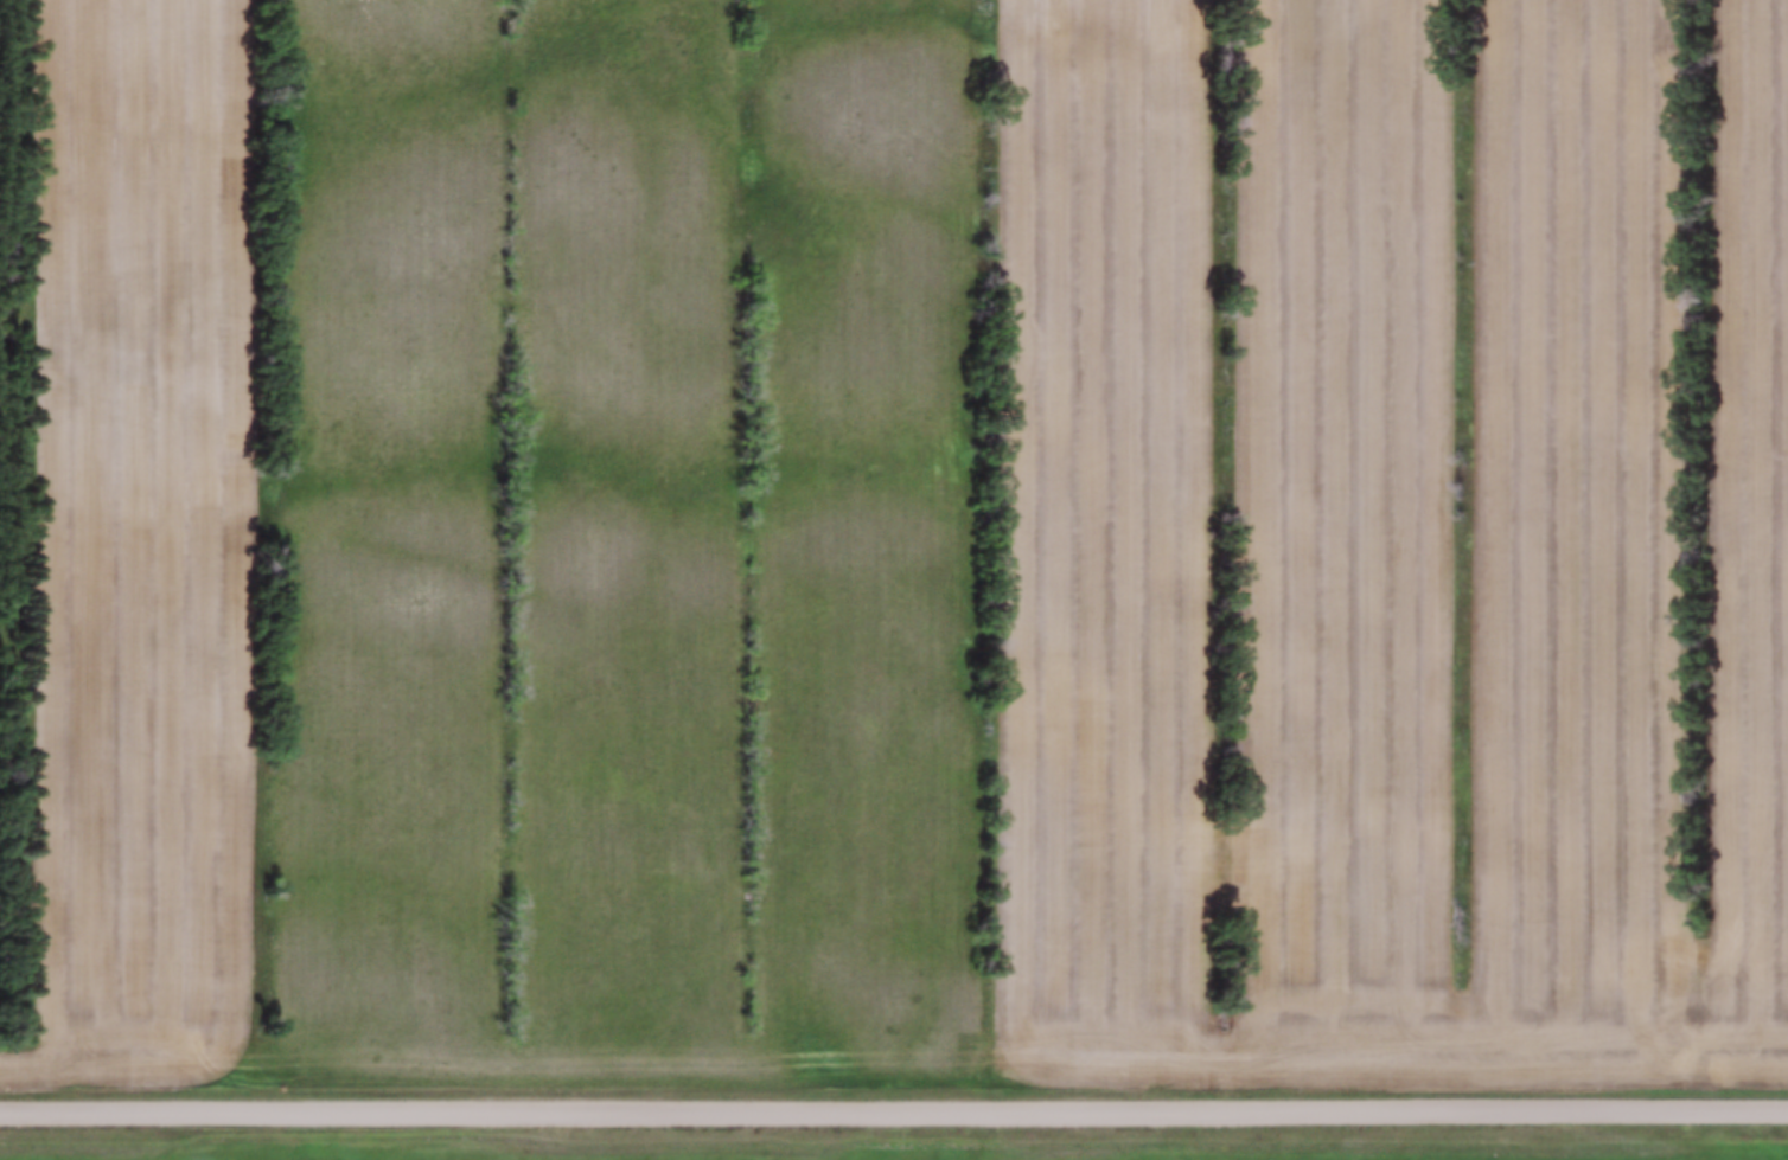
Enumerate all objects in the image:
road: (894, 1109)

